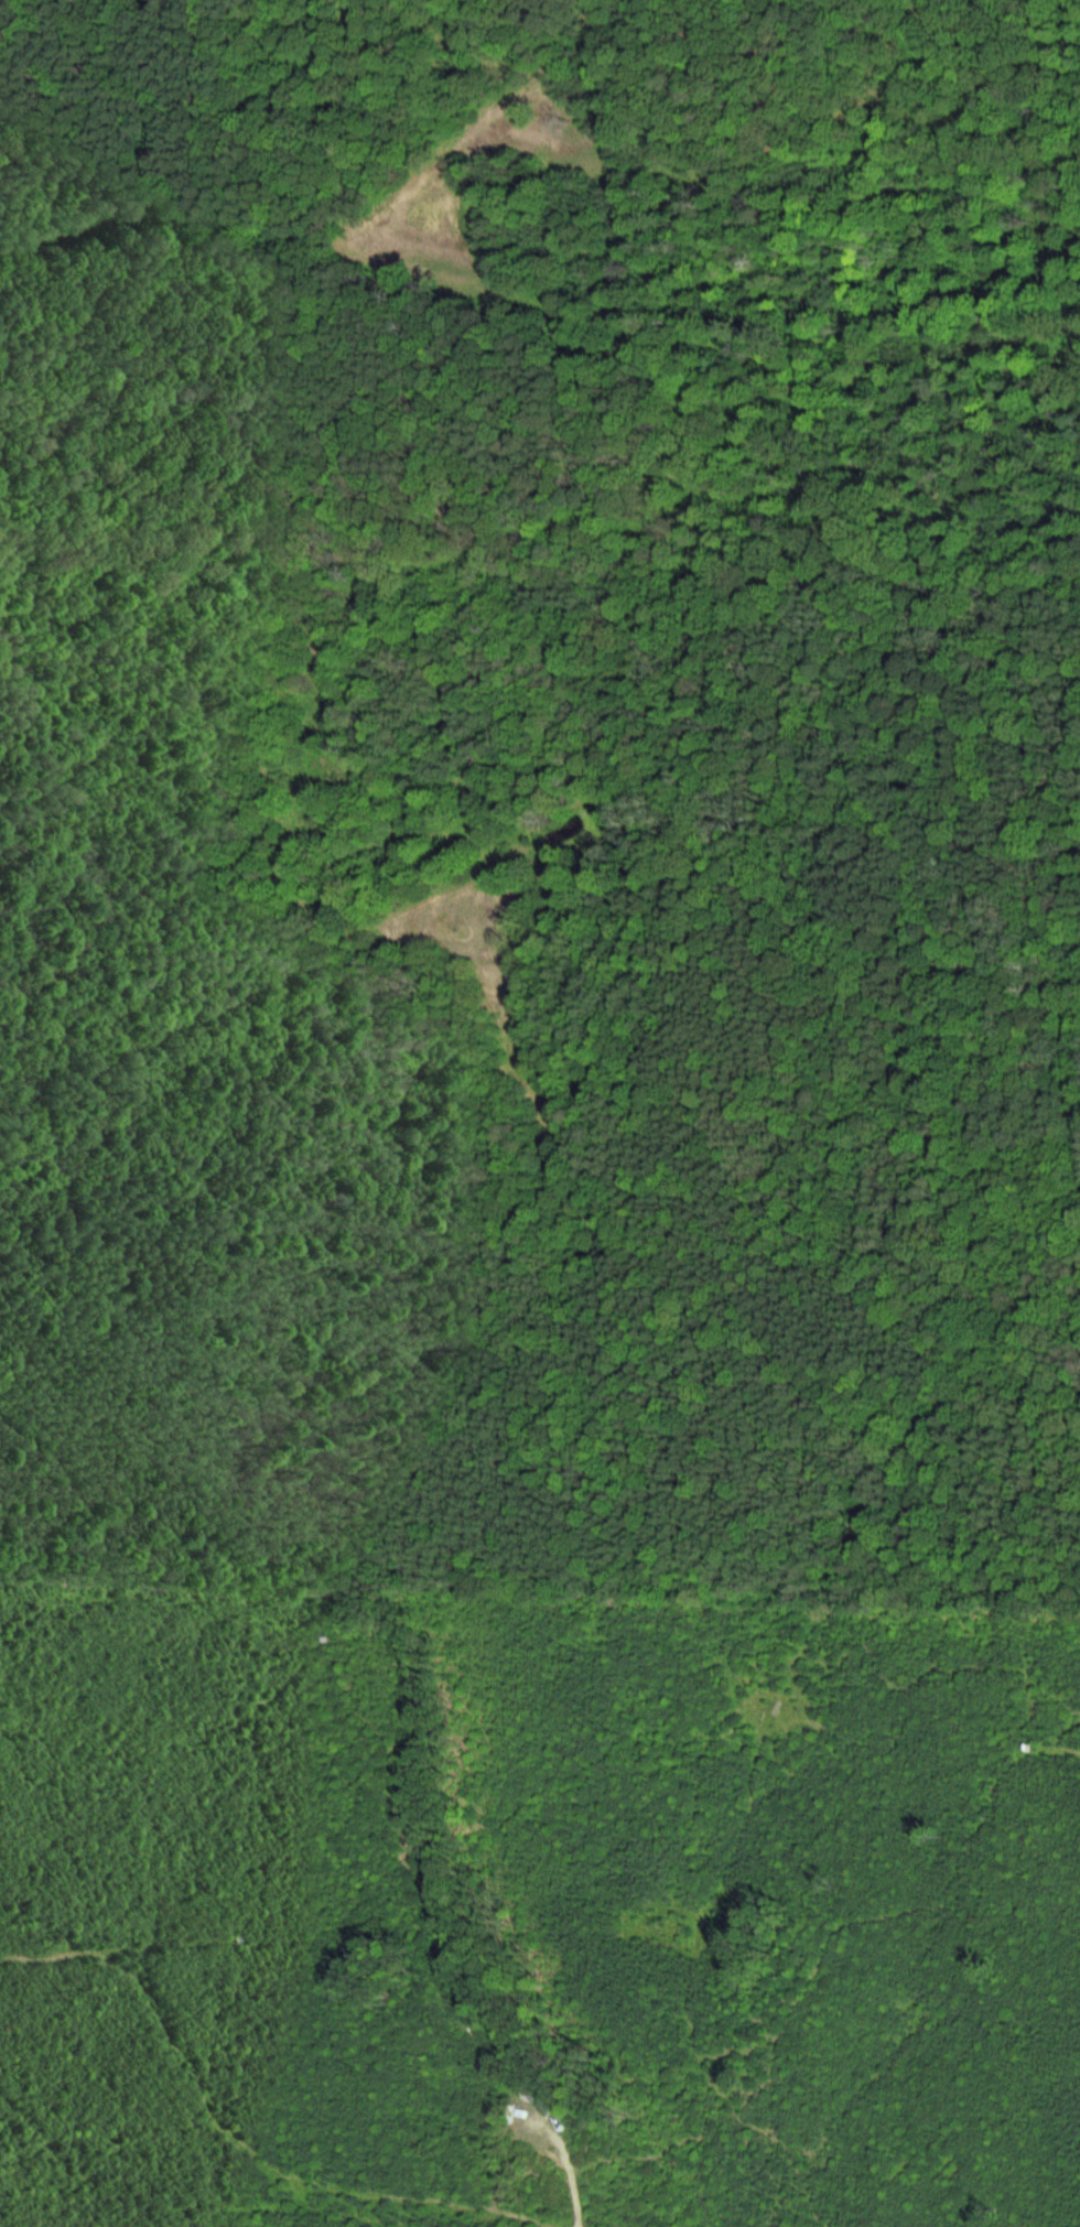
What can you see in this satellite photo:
road: (561, 2209)

